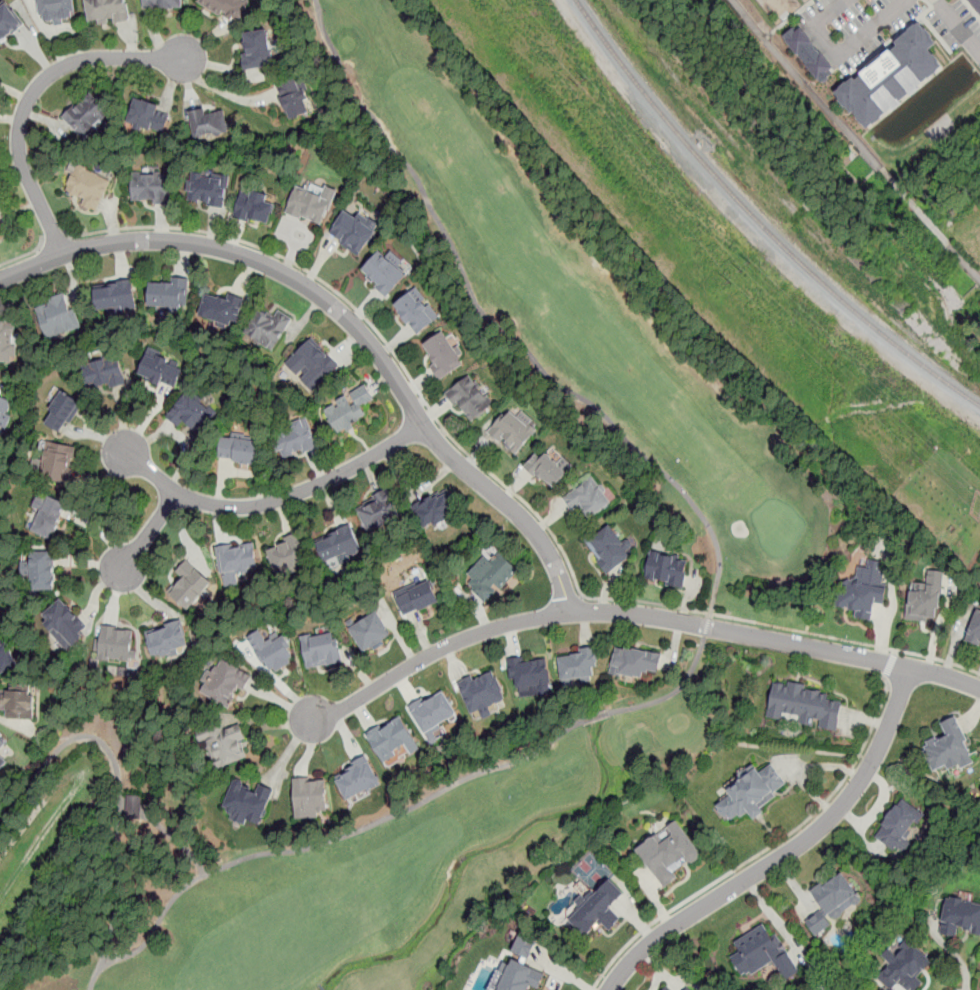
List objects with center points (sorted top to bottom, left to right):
building: (977, 3)
building: (163, 4)
building: (225, 7)
building: (56, 10)
building: (107, 11)
building: (8, 19)
road: (960, 23)
building: (256, 51)
building: (809, 53)
road: (843, 53)
building: (893, 75)
road: (804, 85)
road: (222, 91)
road: (31, 95)
building: (294, 98)
building: (88, 115)
building: (149, 117)
building: (209, 124)
power tower: (645, 152)
building: (89, 187)
building: (151, 187)
building: (209, 189)
building: (309, 206)
road: (914, 206)
building: (254, 209)
building: (0, 213)
railway: (759, 221)
building: (1, 227)
building: (352, 232)
road: (55, 239)
road: (25, 255)
road: (963, 261)
power tower: (741, 271)
building: (383, 274)
building: (169, 293)
building: (115, 296)
building: (221, 309)
building: (416, 312)
building: (57, 317)
road: (347, 319)
road: (508, 320)
building: (268, 329)
building: (8, 342)
building: (443, 355)
building: (312, 366)
building: (161, 370)
building: (103, 374)
building: (470, 399)
building: (349, 409)
building: (4, 411)
building: (62, 413)
building: (193, 414)
building: (513, 431)
building: (295, 439)
building: (239, 451)
building: (57, 463)
building: (546, 470)
road: (503, 483)
park: (736, 497)
building: (587, 499)
road: (271, 503)
building: (436, 511)
building: (376, 513)
building: (47, 517)
road: (147, 535)
building: (338, 545)
building: (608, 549)
building: (287, 555)
building: (237, 561)
building: (665, 569)
building: (41, 571)
building: (490, 575)
building: (188, 587)
building: (863, 591)
building: (417, 598)
building: (926, 599)
building: (64, 624)
building: (975, 627)
building: (370, 632)
building: (165, 640)
road: (776, 642)
building: (115, 644)
building: (321, 650)
building: (272, 653)
building: (5, 655)
road: (433, 655)
building: (635, 663)
road: (889, 664)
building: (577, 667)
building: (530, 676)
building: (225, 684)
road: (676, 691)
building: (481, 692)
building: (18, 705)
building: (806, 705)
building: (433, 711)
building: (392, 738)
building: (2, 745)
building: (225, 746)
road: (61, 748)
building: (948, 748)
building: (3, 762)
building: (357, 778)
building: (751, 793)
building: (310, 797)
building: (246, 804)
building: (900, 826)
road: (334, 839)
road: (764, 849)
road: (787, 853)
building: (669, 854)
road: (114, 892)
building: (833, 901)
building: (599, 909)
building: (960, 917)
road: (149, 933)
building: (524, 947)
building: (762, 953)
road: (953, 954)
building: (906, 967)
building: (516, 977)
building: (666, 988)
building: (683, 989)
building: (686, 989)

